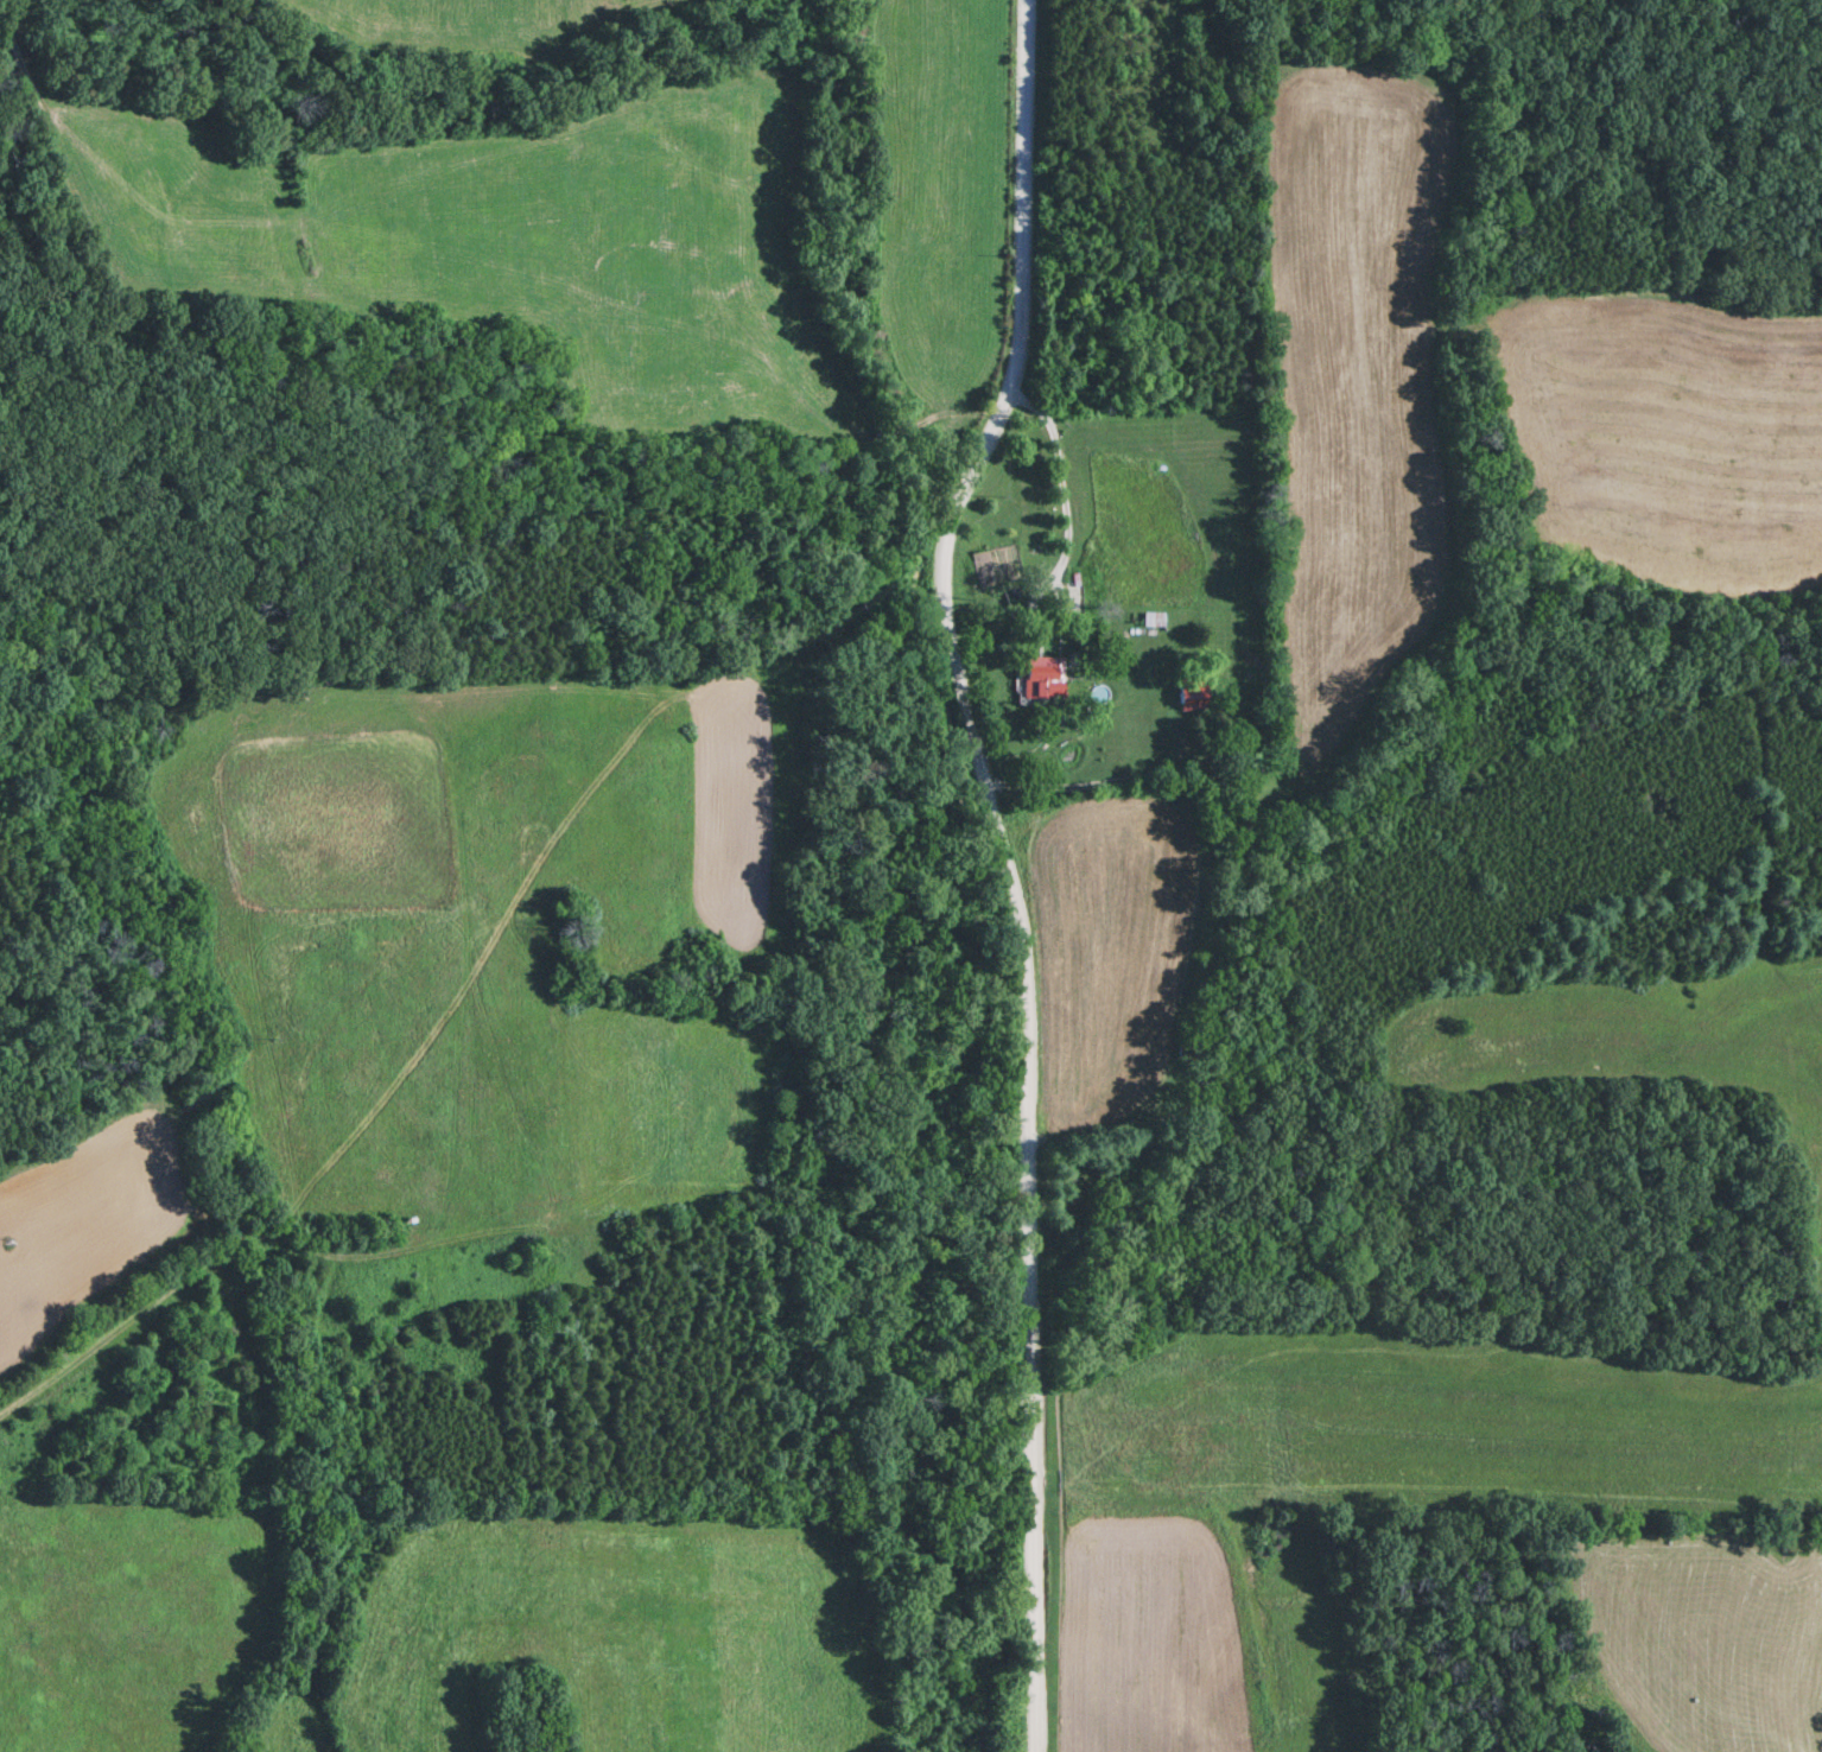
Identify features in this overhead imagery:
road: (1065, 539)
building: (1151, 622)
building: (1033, 678)
road: (1002, 865)

